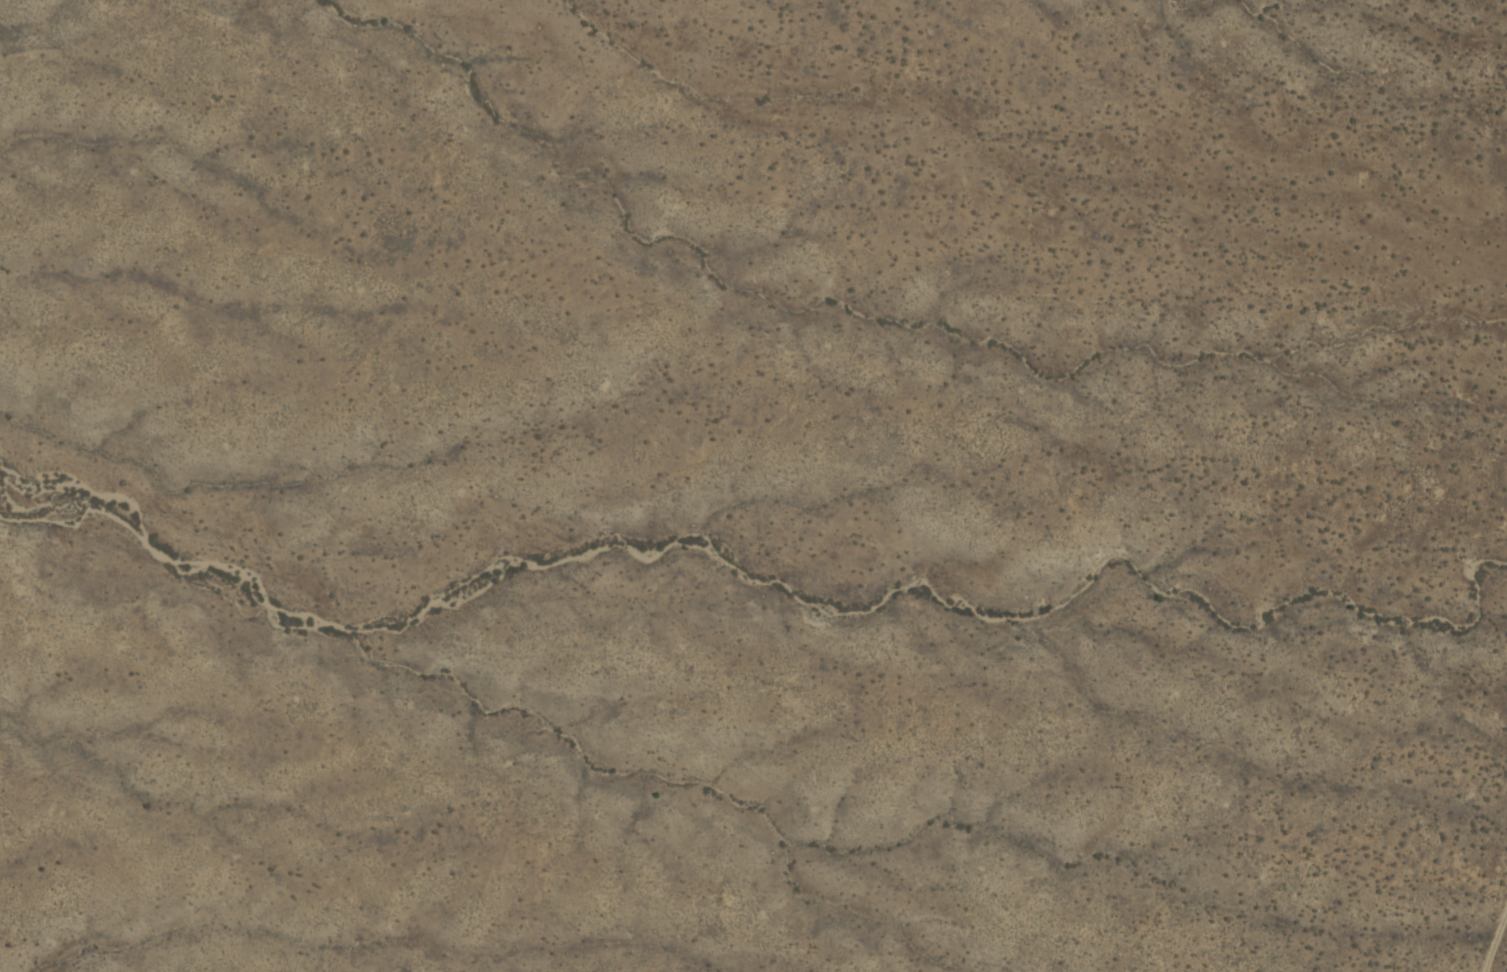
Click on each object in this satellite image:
road: (1494, 937)

